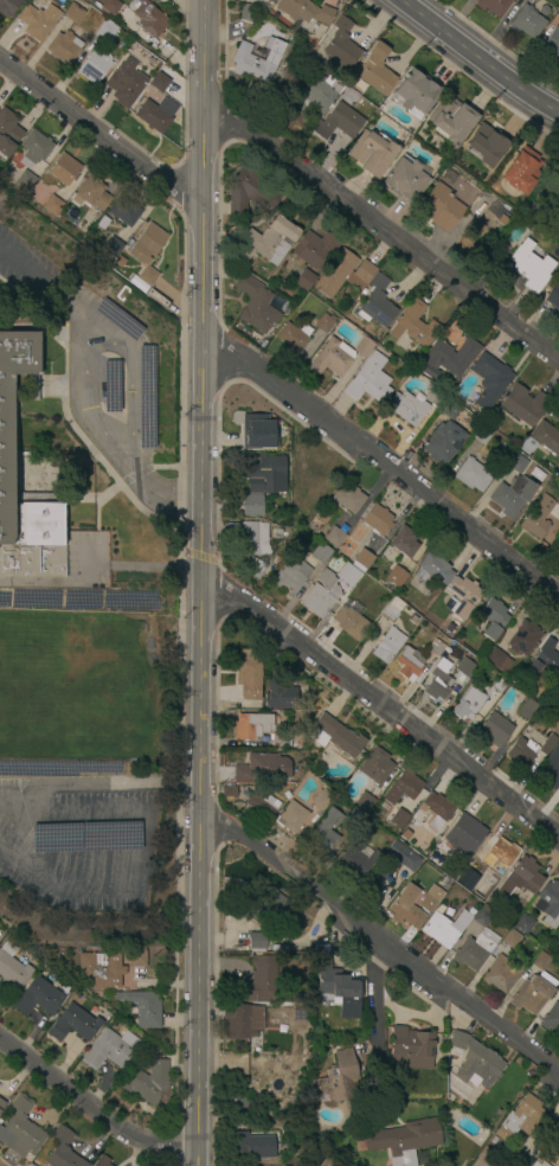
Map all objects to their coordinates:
building: (269, 1)
building: (493, 6)
building: (7, 7)
building: (108, 7)
building: (542, 9)
building: (303, 11)
building: (558, 12)
building: (72, 13)
building: (248, 14)
building: (149, 19)
building: (37, 20)
building: (526, 23)
building: (105, 30)
building: (341, 44)
building: (551, 44)
road: (206, 46)
building: (63, 47)
road: (478, 58)
building: (255, 62)
building: (95, 65)
building: (375, 70)
building: (159, 82)
building: (123, 88)
building: (316, 92)
building: (413, 92)
building: (348, 96)
building: (150, 116)
building: (450, 118)
building: (340, 121)
building: (8, 133)
road: (102, 136)
building: (484, 145)
building: (33, 148)
building: (371, 153)
building: (64, 169)
building: (520, 171)
building: (406, 179)
building: (25, 180)
building: (249, 192)
building: (91, 194)
building: (552, 199)
building: (52, 206)
building: (439, 206)
building: (124, 211)
building: (531, 212)
building: (501, 220)
building: (102, 223)
road: (383, 225)
building: (266, 242)
building: (111, 246)
building: (313, 249)
building: (501, 249)
building: (144, 255)
building: (118, 261)
building: (531, 265)
building: (303, 280)
road: (37, 282)
building: (356, 286)
building: (553, 297)
road: (30, 302)
building: (255, 305)
building: (325, 323)
road: (27, 326)
road: (57, 326)
building: (415, 326)
road: (201, 333)
building: (294, 338)
building: (362, 346)
building: (452, 357)
building: (330, 359)
parking lot: (95, 372)
building: (370, 380)
building: (489, 380)
building: (433, 397)
road: (128, 398)
building: (523, 405)
building: (407, 408)
building: (449, 408)
building: (480, 415)
road: (95, 421)
building: (256, 431)
building: (482, 434)
building: (546, 437)
building: (442, 442)
road: (85, 444)
building: (527, 446)
building: (6, 447)
road: (380, 461)
building: (516, 463)
road: (165, 466)
road: (135, 474)
building: (265, 474)
building: (535, 474)
building: (471, 475)
building: (512, 494)
road: (90, 496)
road: (191, 498)
building: (347, 498)
road: (176, 499)
building: (250, 506)
road: (96, 513)
building: (323, 517)
building: (539, 517)
building: (377, 520)
building: (248, 536)
building: (334, 537)
building: (404, 543)
building: (321, 553)
building: (557, 553)
road: (197, 555)
road: (179, 558)
building: (362, 559)
road: (143, 566)
building: (253, 568)
building: (433, 569)
building: (290, 575)
building: (348, 575)
building: (394, 577)
building: (320, 595)
building: (461, 597)
building: (391, 609)
building: (494, 619)
building: (351, 620)
building: (412, 620)
building: (448, 627)
building: (523, 640)
building: (388, 646)
building: (436, 648)
building: (496, 660)
building: (544, 661)
building: (409, 664)
building: (465, 668)
road: (199, 675)
building: (249, 675)
building: (438, 680)
building: (499, 685)
park: (62, 687)
building: (279, 694)
building: (558, 701)
road: (379, 704)
building: (468, 705)
building: (558, 705)
building: (527, 709)
building: (251, 726)
building: (494, 730)
building: (335, 737)
building: (281, 741)
building: (547, 745)
building: (521, 751)
building: (375, 767)
building: (262, 768)
building: (550, 770)
road: (107, 782)
building: (403, 787)
building: (227, 792)
road: (199, 793)
building: (320, 801)
building: (364, 801)
building: (259, 802)
building: (437, 806)
road: (23, 808)
building: (354, 816)
road: (69, 818)
building: (291, 818)
building: (396, 819)
building: (464, 834)
building: (325, 838)
parking lot: (82, 847)
road: (143, 851)
building: (499, 852)
building: (356, 858)
road: (78, 860)
building: (397, 860)
building: (520, 877)
building: (372, 884)
road: (66, 889)
building: (431, 899)
building: (548, 904)
building: (265, 908)
building: (406, 909)
building: (441, 909)
building: (483, 916)
building: (523, 924)
building: (445, 929)
building: (510, 938)
road: (380, 941)
building: (257, 942)
building: (321, 948)
building: (474, 950)
building: (136, 955)
building: (540, 961)
building: (12, 968)
building: (102, 969)
building: (502, 974)
building: (261, 981)
building: (334, 982)
road: (200, 987)
road: (372, 989)
building: (532, 994)
building: (38, 998)
building: (142, 1008)
building: (551, 1019)
building: (242, 1021)
building: (75, 1024)
building: (410, 1049)
building: (111, 1050)
building: (471, 1064)
building: (338, 1077)
building: (147, 1081)
building: (1, 1103)
road: (94, 1108)
building: (521, 1119)
building: (20, 1129)
building: (406, 1140)
building: (250, 1147)
building: (62, 1151)
building: (487, 1159)
building: (101, 1161)

